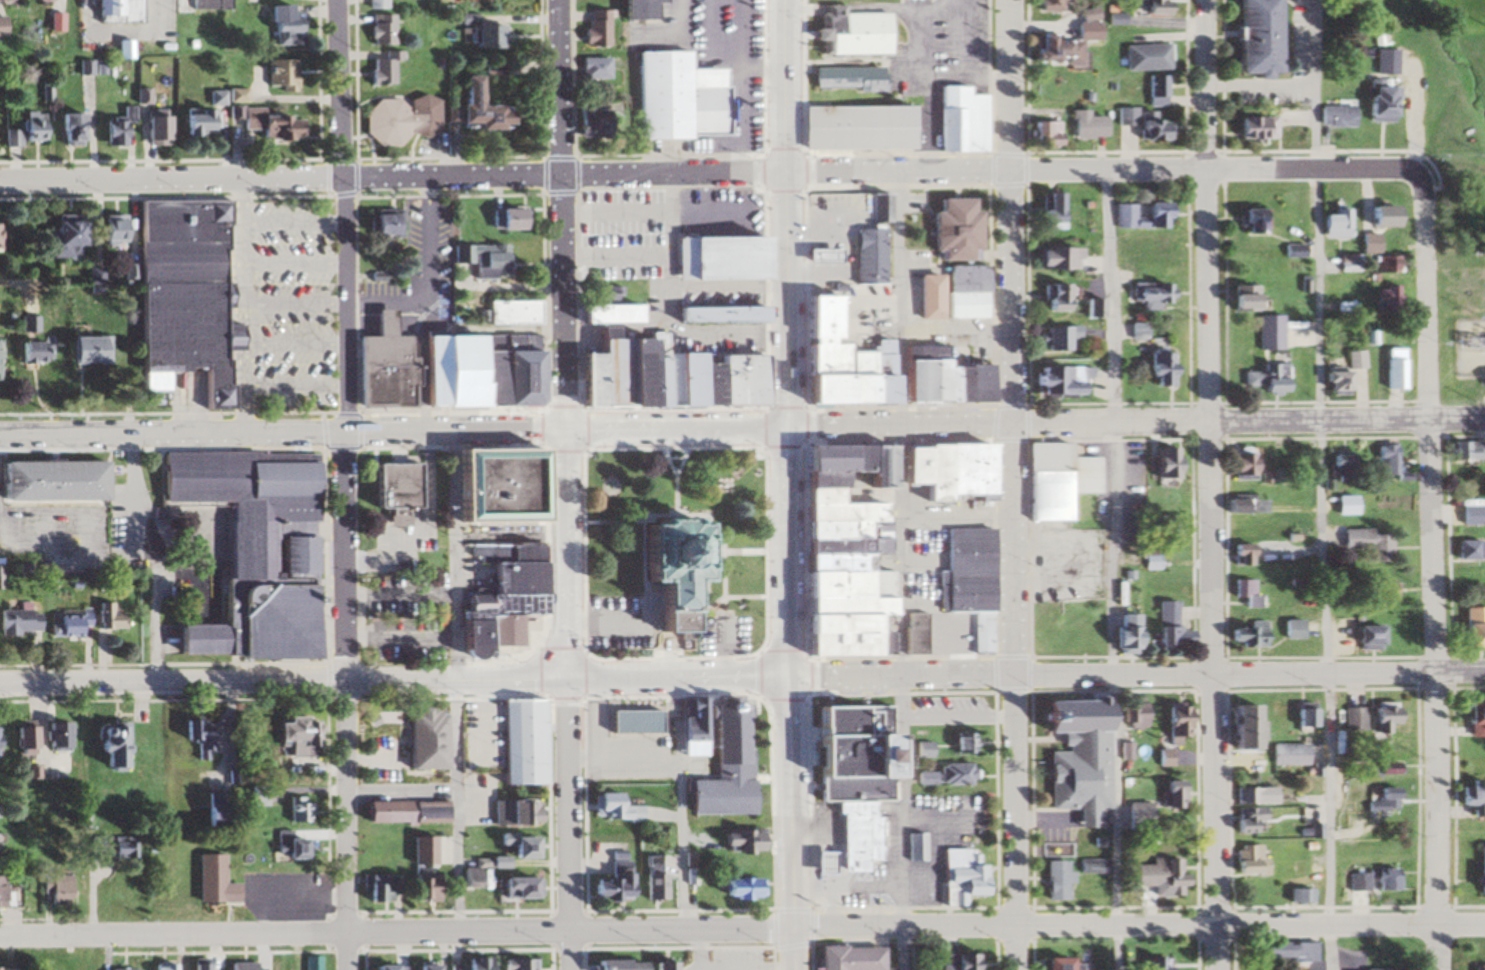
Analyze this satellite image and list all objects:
building: (9, 0)
building: (1340, 3)
building: (207, 4)
building: (373, 4)
building: (1044, 6)
building: (1143, 6)
building: (633, 10)
building: (115, 11)
building: (279, 25)
building: (0, 27)
building: (595, 28)
building: (377, 30)
building: (847, 32)
building: (481, 36)
building: (1248, 36)
building: (119, 49)
building: (1049, 49)
building: (1140, 57)
building: (1383, 61)
building: (593, 68)
building: (381, 70)
building: (277, 74)
building: (842, 78)
road: (1261, 84)
building: (1154, 90)
building: (675, 96)
building: (214, 97)
building: (1376, 104)
building: (472, 106)
building: (1335, 115)
building: (397, 119)
building: (589, 119)
building: (259, 120)
building: (959, 120)
building: (193, 122)
building: (1143, 124)
building: (1082, 125)
building: (855, 127)
building: (1253, 127)
building: (147, 128)
building: (66, 129)
building: (26, 130)
building: (113, 130)
building: (1041, 134)
road: (1136, 173)
road: (394, 178)
building: (876, 207)
road: (1209, 209)
building: (1049, 210)
building: (1154, 210)
road: (1014, 211)
road: (787, 213)
road: (564, 215)
building: (1379, 216)
road: (336, 217)
building: (506, 219)
building: (1251, 220)
building: (1455, 222)
building: (1332, 223)
building: (378, 228)
building: (109, 229)
building: (951, 229)
building: (58, 239)
building: (1147, 247)
building: (1290, 251)
road: (669, 252)
building: (1119, 252)
building: (816, 255)
gas station: (863, 255)
building: (864, 256)
building: (719, 258)
building: (1050, 258)
building: (483, 260)
building: (1347, 262)
building: (1385, 265)
building: (174, 291)
building: (963, 292)
building: (1145, 296)
road: (1425, 296)
building: (926, 297)
building: (1052, 297)
building: (1235, 298)
building: (1387, 298)
building: (1343, 307)
building: (1091, 309)
building: (510, 313)
building: (600, 314)
building: (716, 314)
building: (1260, 323)
building: (1292, 323)
building: (27, 324)
road: (698, 330)
building: (1134, 331)
road: (955, 336)
building: (1054, 337)
building: (81, 350)
building: (34, 352)
building: (837, 357)
building: (3, 360)
building: (1353, 360)
building: (380, 367)
building: (1156, 368)
building: (1392, 369)
building: (474, 370)
building: (655, 375)
building: (937, 378)
building: (1264, 379)
building: (1483, 379)
building: (1061, 382)
building: (1331, 382)
road: (1135, 421)
road: (676, 429)
road: (283, 435)
building: (1465, 450)
building: (1384, 461)
building: (1160, 464)
building: (1237, 466)
building: (1337, 466)
building: (944, 472)
building: (51, 480)
building: (1053, 481)
building: (499, 485)
road: (1320, 485)
building: (391, 490)
building: (248, 504)
building: (1240, 505)
building: (1346, 505)
building: (1468, 515)
building: (1167, 526)
road: (510, 536)
building: (1366, 543)
building: (1463, 550)
building: (500, 551)
road: (786, 553)
park: (675, 554)
building: (1237, 555)
road: (566, 556)
building: (1150, 556)
building: (838, 557)
road: (323, 558)
building: (664, 566)
road: (897, 570)
road: (1110, 571)
building: (510, 578)
building: (967, 580)
building: (1246, 592)
building: (1377, 593)
building: (499, 605)
building: (107, 613)
building: (26, 620)
building: (255, 621)
building: (75, 624)
parking lot: (615, 625)
road: (598, 626)
building: (1471, 626)
building: (1167, 628)
building: (1289, 629)
building: (913, 634)
building: (1123, 635)
building: (1246, 635)
building: (1361, 637)
parking lot: (721, 638)
road: (584, 648)
road: (726, 652)
road: (1135, 673)
road: (676, 680)
road: (455, 682)
road: (283, 683)
road: (1218, 694)
road: (1015, 696)
road: (1442, 696)
road: (338, 702)
building: (949, 714)
building: (1131, 716)
building: (1301, 718)
building: (1378, 718)
building: (1349, 719)
building: (1472, 720)
building: (848, 722)
building: (635, 724)
building: (383, 725)
building: (1169, 726)
building: (1237, 727)
building: (692, 728)
building: (289, 737)
building: (65, 738)
building: (195, 738)
building: (3, 740)
building: (421, 740)
building: (32, 741)
building: (520, 743)
building: (963, 745)
building: (119, 748)
building: (923, 750)
building: (1284, 755)
building: (1077, 756)
building: (1160, 758)
building: (846, 759)
building: (725, 765)
building: (1381, 769)
building: (952, 774)
building: (1313, 776)
building: (852, 790)
building: (1168, 795)
building: (254, 796)
building: (1251, 796)
building: (1380, 802)
road: (681, 805)
building: (606, 806)
building: (0, 810)
building: (210, 810)
building: (294, 811)
building: (402, 813)
building: (510, 813)
building: (1134, 817)
building: (1244, 821)
road: (568, 825)
road: (788, 825)
building: (740, 841)
building: (914, 847)
building: (3, 848)
building: (129, 848)
building: (287, 848)
building: (511, 849)
building: (421, 851)
building: (1243, 860)
building: (1089, 866)
building: (1479, 870)
building: (1159, 875)
building: (957, 876)
building: (692, 877)
building: (473, 878)
building: (651, 878)
building: (1053, 878)
building: (1382, 879)
building: (209, 881)
building: (612, 881)
building: (1355, 882)
building: (424, 888)
building: (381, 889)
building: (512, 889)
building: (735, 889)
building: (67, 891)
building: (7, 892)
building: (1297, 895)
road: (1137, 928)
road: (395, 935)
building: (1288, 951)
building: (845, 958)
building: (313, 962)
building: (955, 962)
building: (473, 963)
building: (1157, 963)
building: (516, 964)
building: (1052, 964)
building: (89, 965)
building: (208, 965)
building: (614, 965)
building: (663, 966)
building: (175, 967)
building: (249, 967)
building: (424, 967)
building: (1478, 967)
building: (386, 968)
building: (12, 969)
building: (130, 969)
building: (1372, 969)

